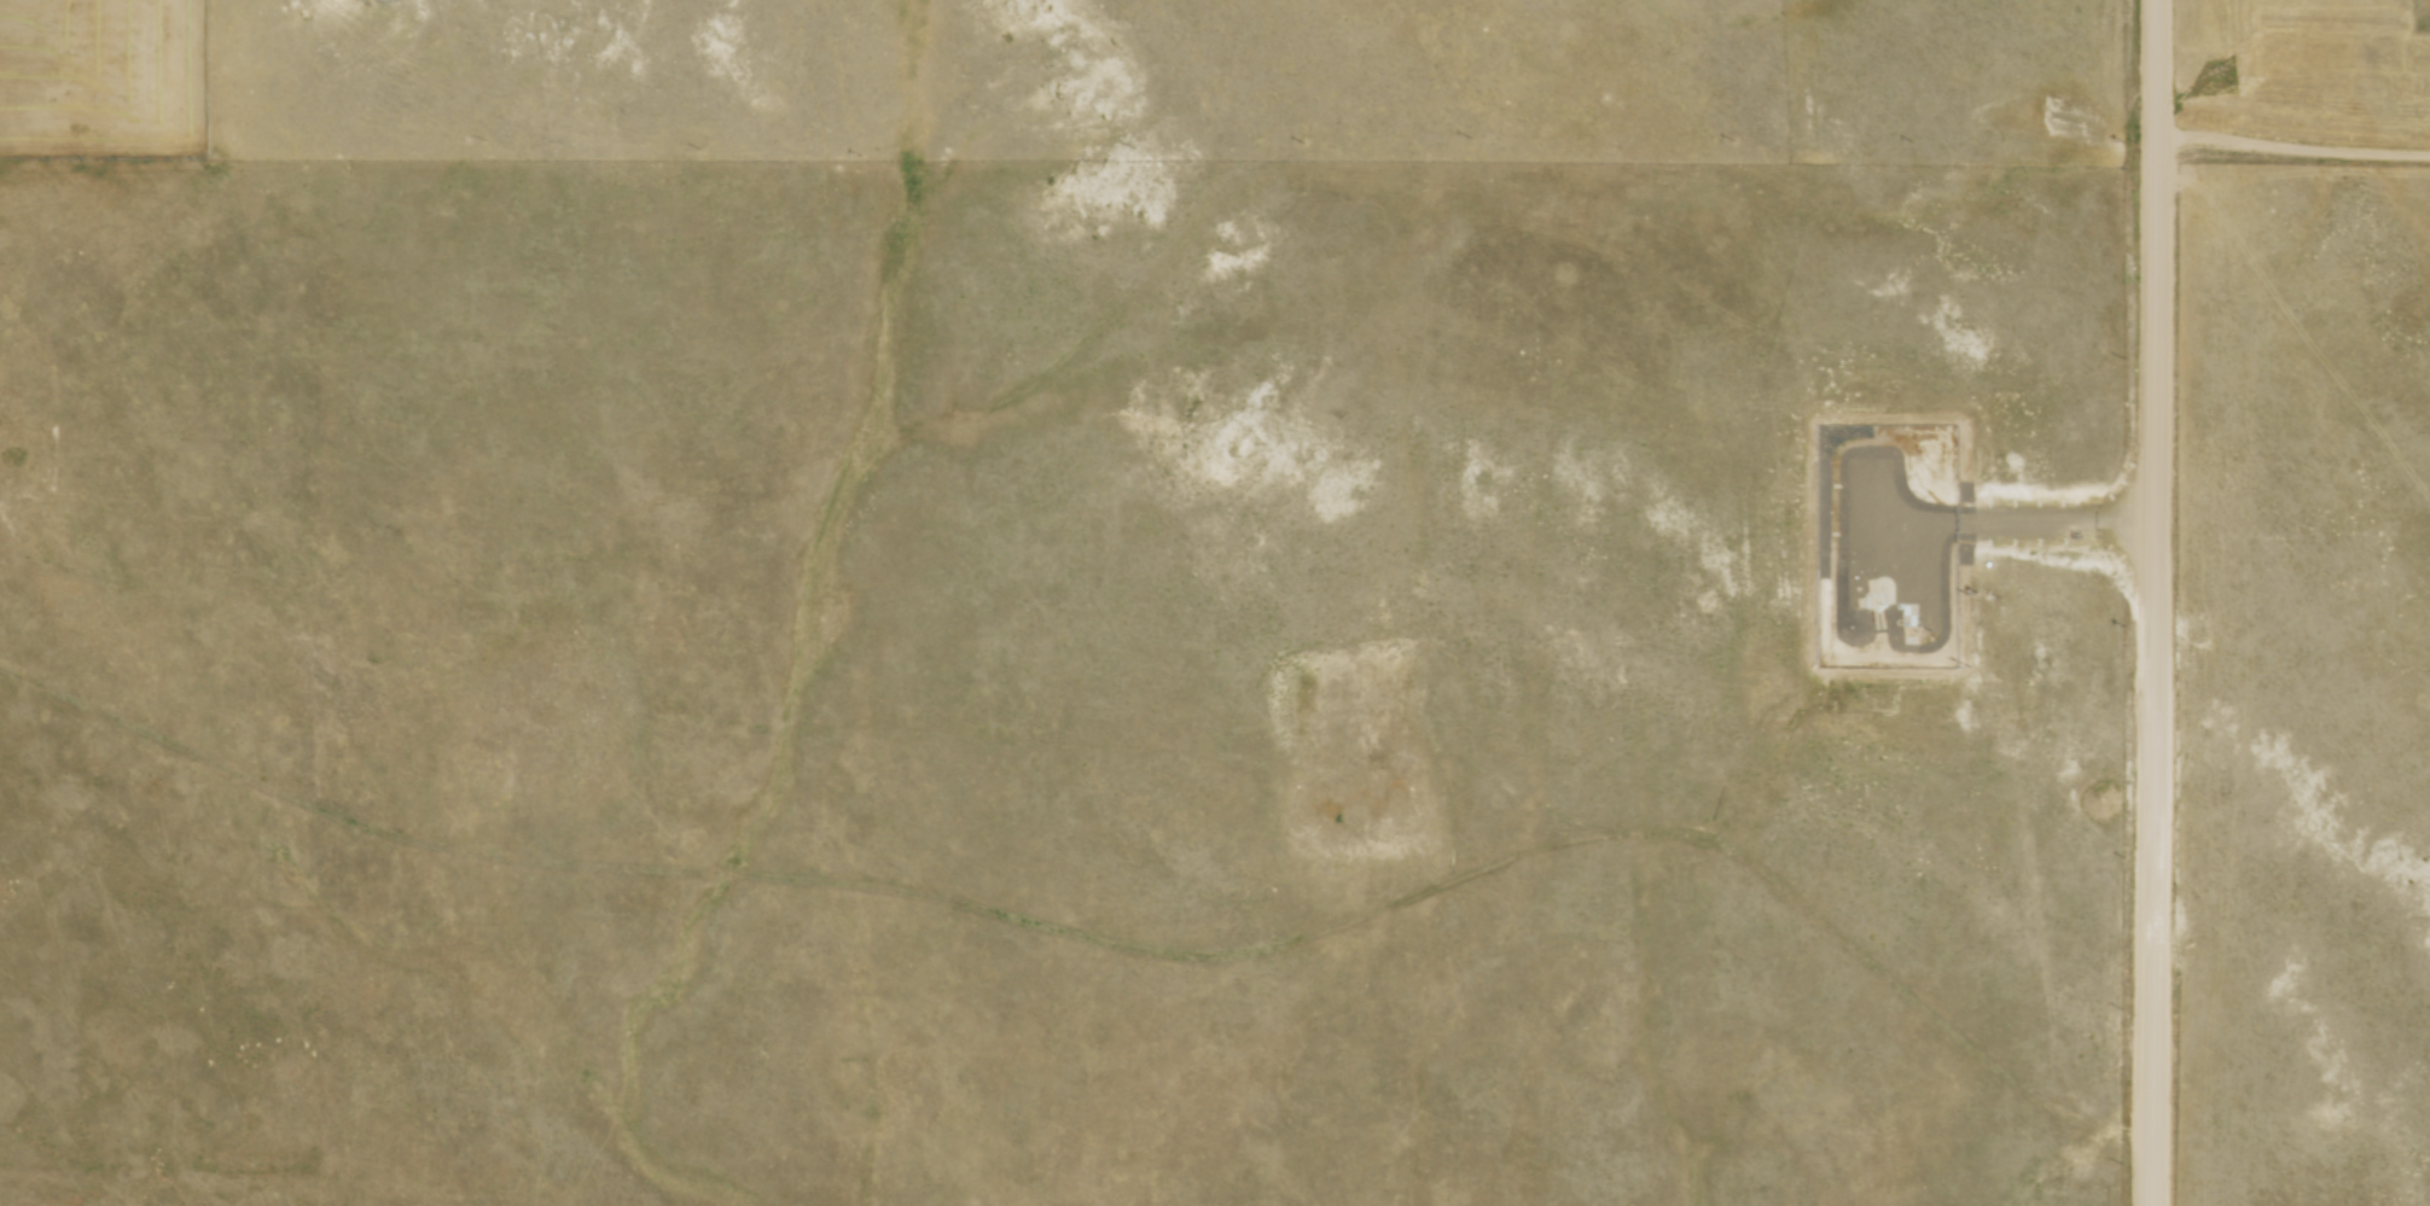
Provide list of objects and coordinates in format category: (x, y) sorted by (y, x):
road: (2295, 132)
road: (2060, 523)
road: (2161, 602)

